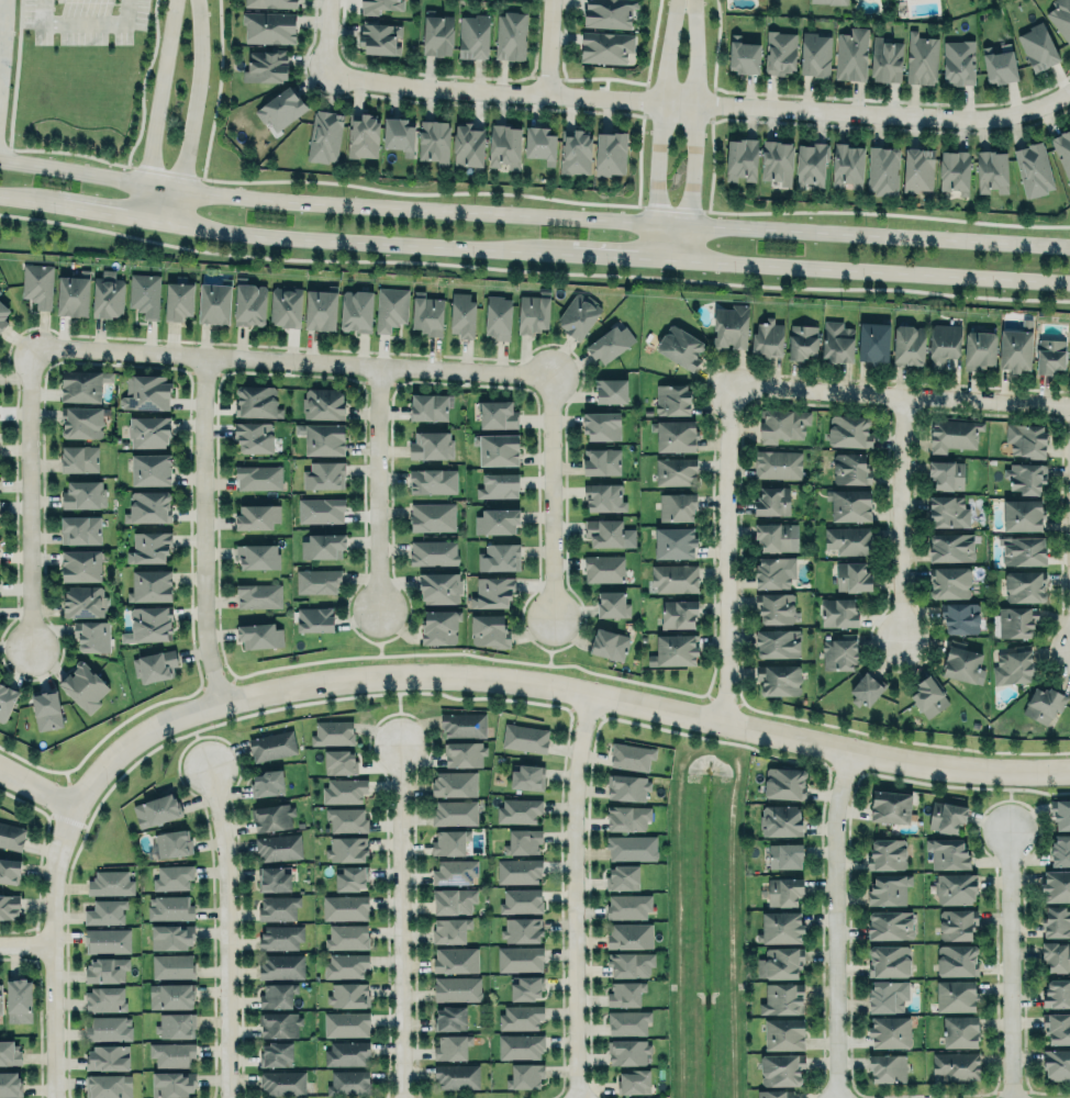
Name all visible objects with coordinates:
building: (832, 1)
building: (270, 2)
building: (378, 4)
building: (606, 11)
building: (1060, 19)
road: (1, 21)
parking lot: (82, 22)
road: (85, 22)
road: (2, 26)
building: (268, 27)
building: (436, 32)
building: (510, 33)
building: (379, 35)
road: (326, 36)
building: (472, 36)
building: (605, 45)
building: (1038, 45)
road: (549, 46)
building: (779, 51)
building: (743, 53)
building: (815, 53)
building: (851, 53)
building: (922, 57)
building: (885, 59)
building: (959, 60)
building: (266, 64)
building: (999, 64)
road: (699, 103)
road: (157, 107)
building: (280, 108)
road: (193, 111)
road: (659, 126)
road: (695, 127)
building: (363, 134)
building: (399, 134)
building: (324, 135)
building: (434, 139)
building: (504, 144)
building: (539, 144)
building: (469, 145)
building: (576, 149)
building: (1060, 149)
building: (610, 153)
building: (740, 158)
building: (777, 160)
building: (847, 164)
building: (810, 165)
building: (1028, 166)
building: (917, 168)
building: (985, 169)
building: (882, 170)
building: (954, 171)
road: (533, 212)
road: (268, 235)
road: (614, 253)
road: (880, 268)
building: (37, 283)
building: (74, 292)
building: (144, 292)
building: (108, 293)
building: (178, 300)
building: (214, 301)
building: (249, 302)
building: (285, 306)
building: (320, 307)
building: (390, 307)
building: (356, 310)
building: (427, 312)
building: (532, 312)
building: (461, 313)
building: (578, 314)
building: (2, 315)
building: (498, 315)
building: (731, 325)
building: (767, 338)
building: (872, 339)
building: (802, 340)
building: (836, 340)
building: (610, 341)
building: (943, 343)
building: (907, 345)
building: (680, 346)
building: (977, 347)
building: (1014, 348)
building: (1050, 356)
road: (288, 361)
building: (1069, 373)
building: (82, 383)
building: (611, 389)
building: (146, 391)
road: (900, 396)
building: (672, 397)
building: (256, 401)
building: (324, 402)
building: (428, 405)
building: (498, 412)
building: (81, 422)
building: (601, 422)
building: (781, 424)
building: (148, 430)
building: (849, 430)
building: (950, 433)
building: (675, 435)
building: (254, 437)
building: (323, 437)
building: (1023, 437)
building: (431, 445)
building: (498, 449)
building: (79, 459)
building: (602, 460)
building: (777, 463)
building: (151, 468)
building: (849, 468)
building: (676, 470)
building: (945, 471)
building: (324, 473)
building: (1025, 475)
building: (258, 477)
building: (433, 480)
building: (498, 483)
road: (374, 489)
building: (83, 493)
building: (603, 495)
road: (548, 496)
road: (27, 497)
building: (772, 500)
building: (849, 503)
building: (148, 506)
building: (677, 506)
building: (320, 509)
building: (948, 509)
building: (1022, 514)
building: (256, 516)
building: (432, 516)
building: (497, 519)
road: (901, 519)
building: (80, 528)
building: (604, 530)
road: (202, 533)
building: (777, 536)
building: (848, 538)
building: (673, 540)
building: (323, 545)
building: (951, 546)
building: (149, 547)
building: (1021, 547)
building: (433, 552)
building: (257, 554)
road: (724, 554)
building: (499, 556)
building: (80, 564)
building: (603, 568)
building: (773, 572)
building: (673, 576)
building: (851, 576)
building: (316, 580)
building: (949, 581)
building: (1022, 582)
building: (151, 584)
building: (439, 585)
building: (492, 592)
building: (259, 594)
building: (83, 601)
building: (612, 604)
building: (774, 606)
building: (838, 610)
building: (678, 614)
building: (958, 614)
building: (313, 616)
building: (1014, 619)
building: (149, 623)
building: (441, 625)
building: (488, 629)
building: (91, 635)
building: (259, 636)
building: (777, 641)
building: (609, 642)
road: (379, 645)
building: (673, 650)
road: (548, 651)
building: (838, 652)
building: (961, 662)
building: (1012, 663)
building: (154, 664)
building: (779, 679)
building: (83, 685)
road: (555, 686)
building: (866, 688)
building: (928, 695)
building: (5, 699)
building: (1044, 703)
building: (46, 710)
road: (400, 712)
building: (464, 724)
building: (333, 731)
building: (524, 738)
road: (894, 739)
road: (199, 741)
building: (271, 743)
building: (464, 752)
building: (631, 757)
building: (339, 762)
building: (527, 775)
building: (265, 780)
building: (453, 782)
building: (784, 782)
building: (627, 786)
road: (37, 788)
building: (344, 789)
road: (1010, 803)
building: (890, 806)
building: (156, 807)
building: (515, 809)
building: (454, 811)
building: (1060, 814)
building: (946, 815)
building: (271, 817)
building: (346, 818)
building: (627, 818)
building: (779, 819)
building: (11, 834)
building: (450, 841)
building: (523, 841)
building: (171, 843)
building: (278, 847)
building: (632, 847)
building: (346, 848)
building: (1060, 850)
building: (947, 852)
building: (887, 853)
building: (784, 854)
building: (10, 869)
building: (519, 870)
building: (454, 872)
building: (171, 876)
building: (272, 877)
building: (623, 877)
building: (350, 878)
building: (110, 882)
building: (1056, 885)
building: (956, 887)
building: (888, 888)
building: (782, 890)
road: (575, 895)
building: (453, 900)
building: (521, 900)
building: (9, 905)
building: (278, 906)
building: (344, 906)
building: (627, 906)
building: (169, 907)
building: (105, 910)
road: (402, 921)
building: (1056, 921)
road: (836, 922)
building: (956, 923)
building: (890, 925)
building: (780, 926)
building: (522, 928)
building: (450, 929)
road: (227, 932)
building: (169, 934)
building: (628, 935)
building: (280, 937)
building: (347, 937)
building: (107, 939)
road: (26, 942)
road: (54, 952)
building: (1056, 955)
building: (520, 957)
building: (956, 959)
building: (455, 960)
building: (888, 960)
building: (780, 962)
building: (345, 964)
building: (629, 964)
building: (171, 965)
building: (281, 966)
road: (1010, 966)
building: (105, 968)
building: (526, 987)
building: (456, 988)
building: (274, 993)
building: (955, 993)
building: (1057, 993)
building: (348, 994)
building: (625, 994)
building: (887, 995)
building: (170, 996)
building: (0, 997)
building: (104, 998)
building: (782, 998)
building: (18, 1000)
building: (450, 1017)
building: (520, 1017)
building: (278, 1021)
building: (627, 1021)
building: (174, 1023)
building: (346, 1023)
building: (109, 1028)
building: (1056, 1028)
building: (959, 1031)
building: (889, 1032)
building: (783, 1033)
building: (520, 1045)
building: (452, 1046)
building: (10, 1052)
building: (627, 1052)
building: (276, 1053)
building: (346, 1053)
building: (171, 1054)
building: (107, 1057)
building: (956, 1064)
building: (1056, 1064)
building: (887, 1067)
building: (781, 1068)
building: (525, 1075)
building: (456, 1076)
building: (170, 1079)
building: (10, 1080)
building: (634, 1080)
building: (282, 1082)
building: (348, 1083)
building: (108, 1086)
building: (773, 1094)

